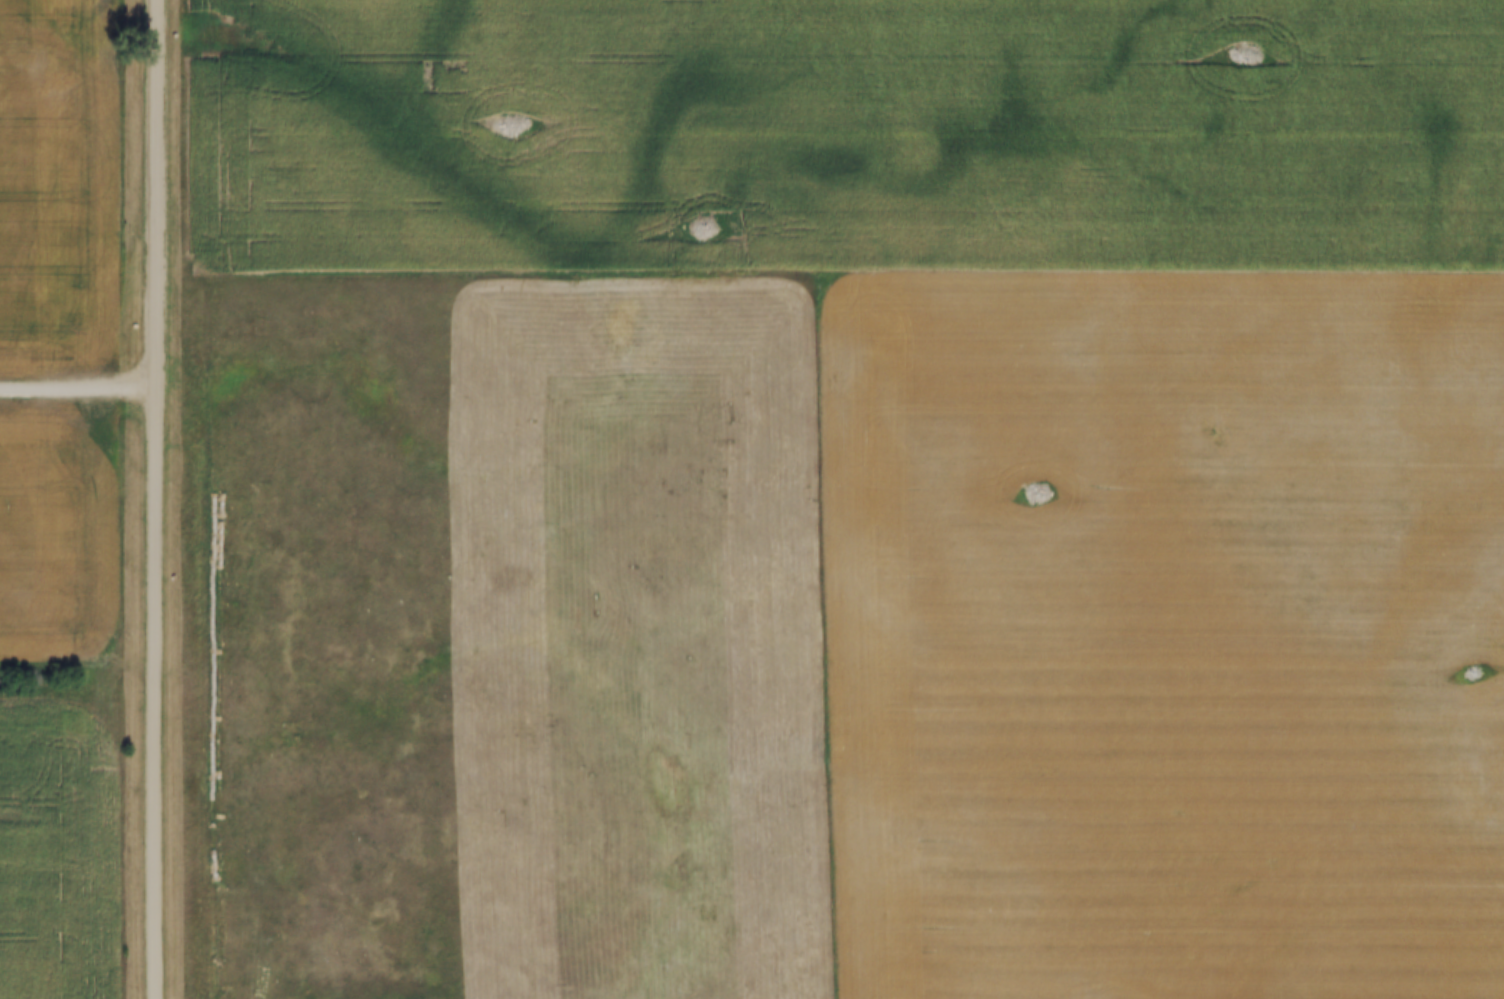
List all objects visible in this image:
road: (157, 499)

